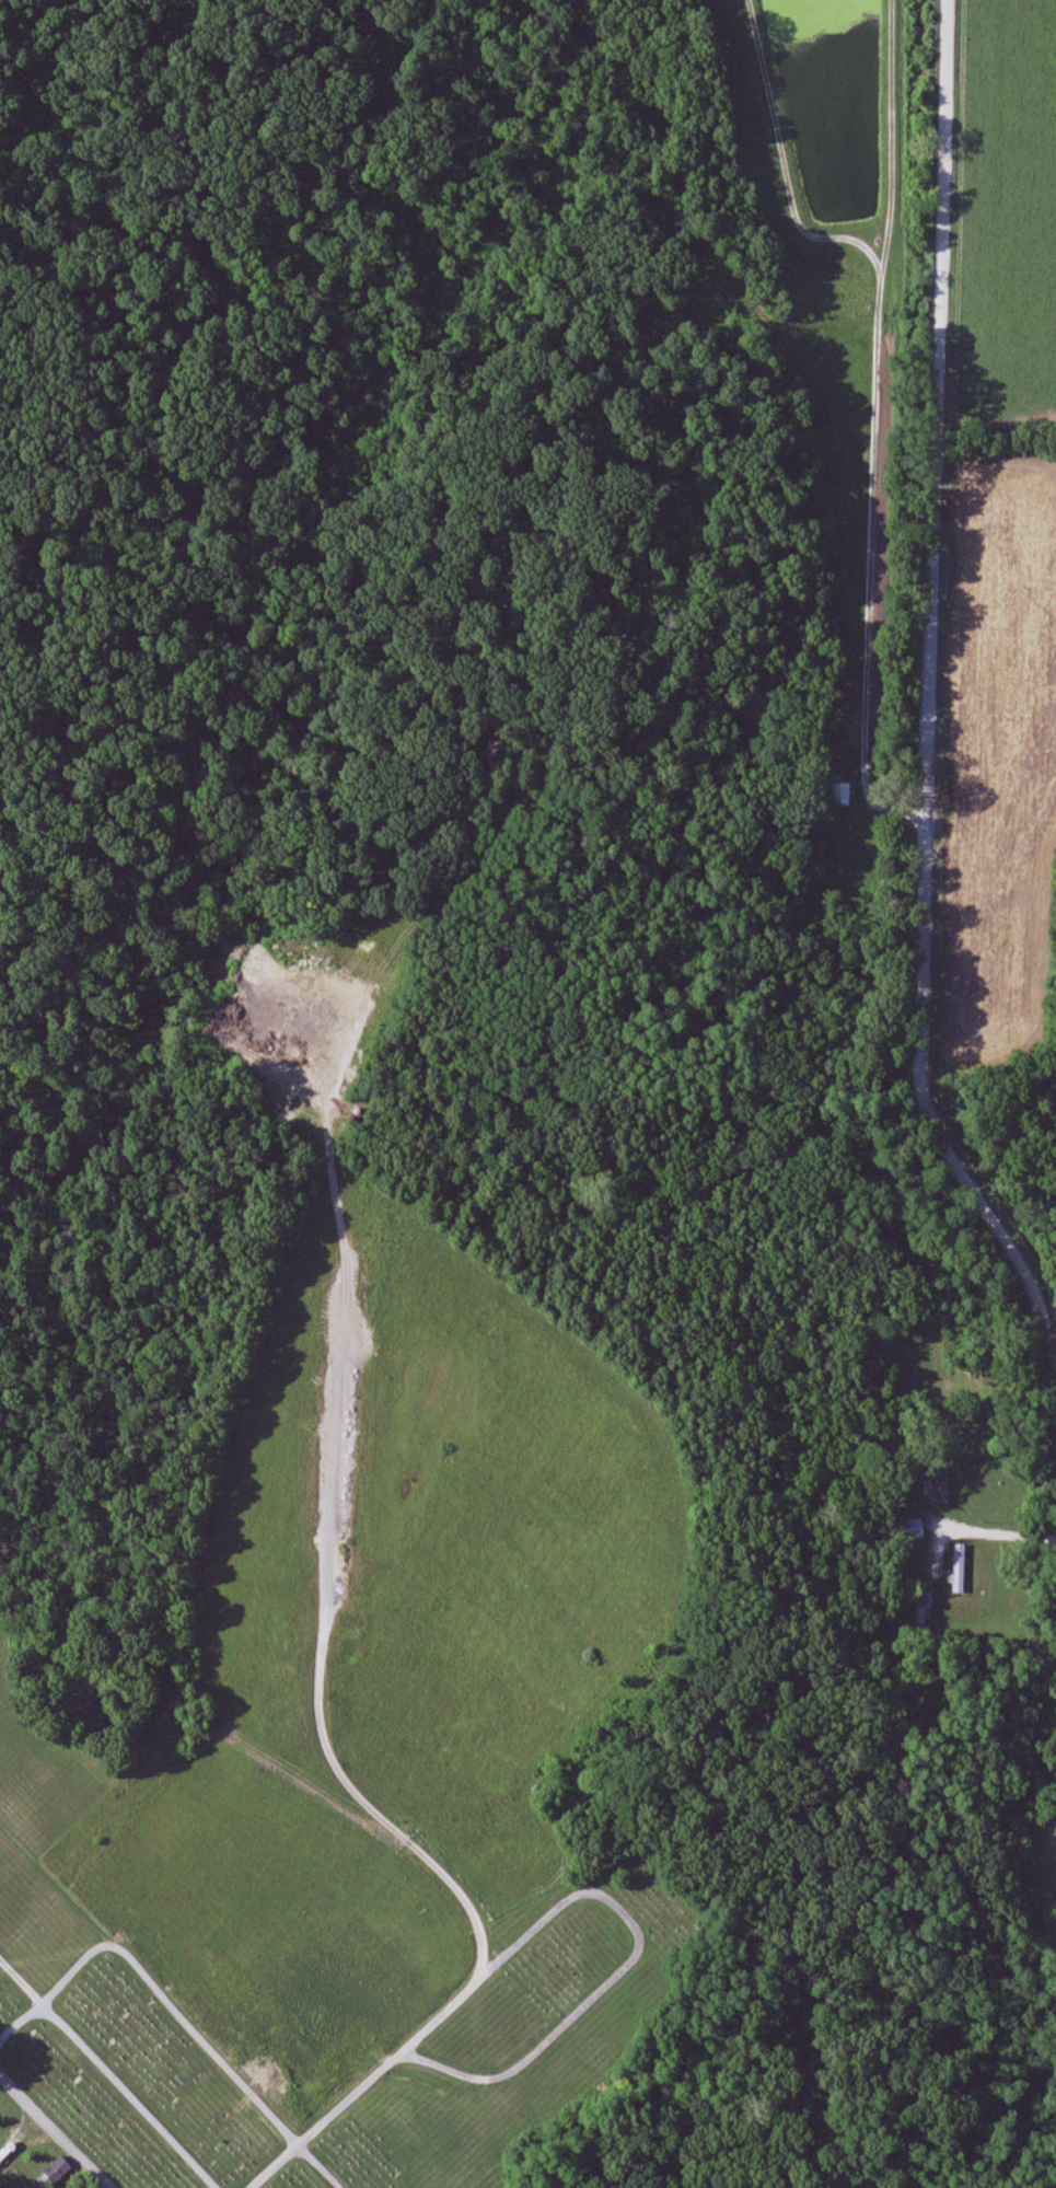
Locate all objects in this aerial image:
road: (926, 702)
building: (843, 795)
road: (333, 1477)
building: (939, 1487)
building: (912, 1530)
road: (997, 1531)
building: (960, 1568)
road: (407, 2048)
road: (57, 2127)
building: (53, 2175)

